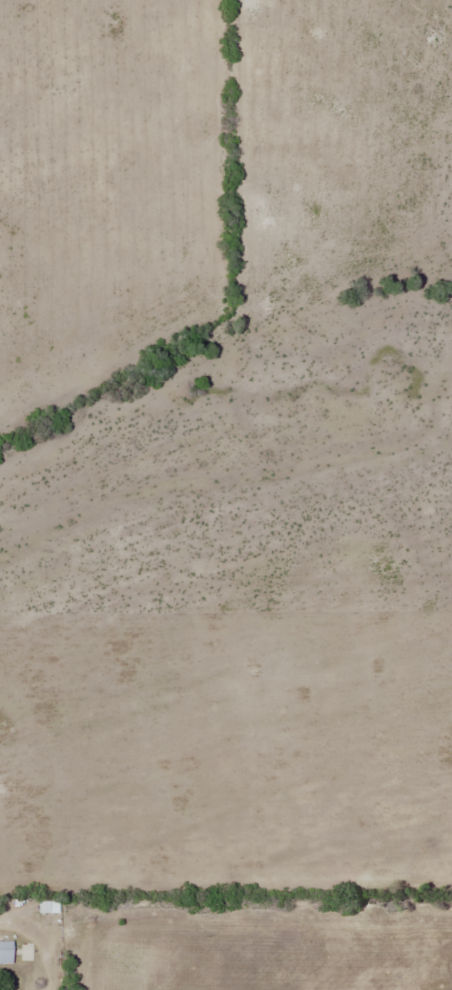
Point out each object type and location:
building: (5, 952)
building: (24, 952)

